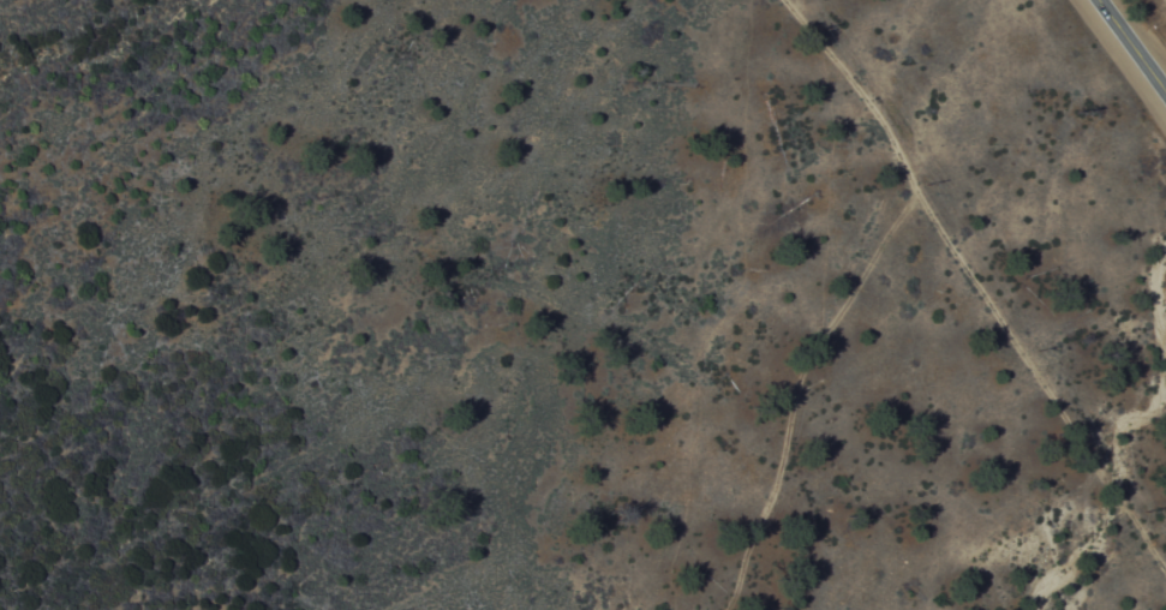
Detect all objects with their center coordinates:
road: (1132, 44)
road: (854, 88)
road: (1038, 376)
road: (797, 387)

